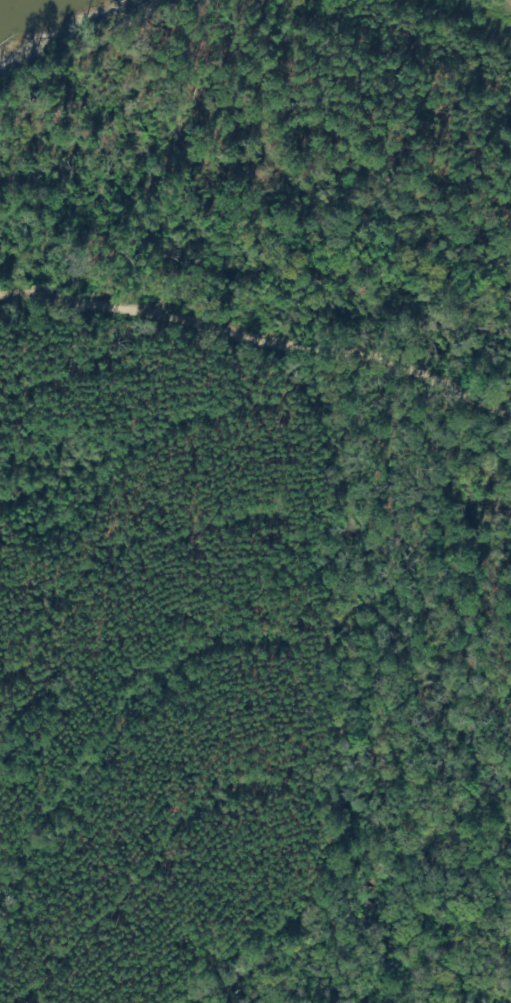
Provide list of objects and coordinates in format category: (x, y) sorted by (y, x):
road: (258, 347)

